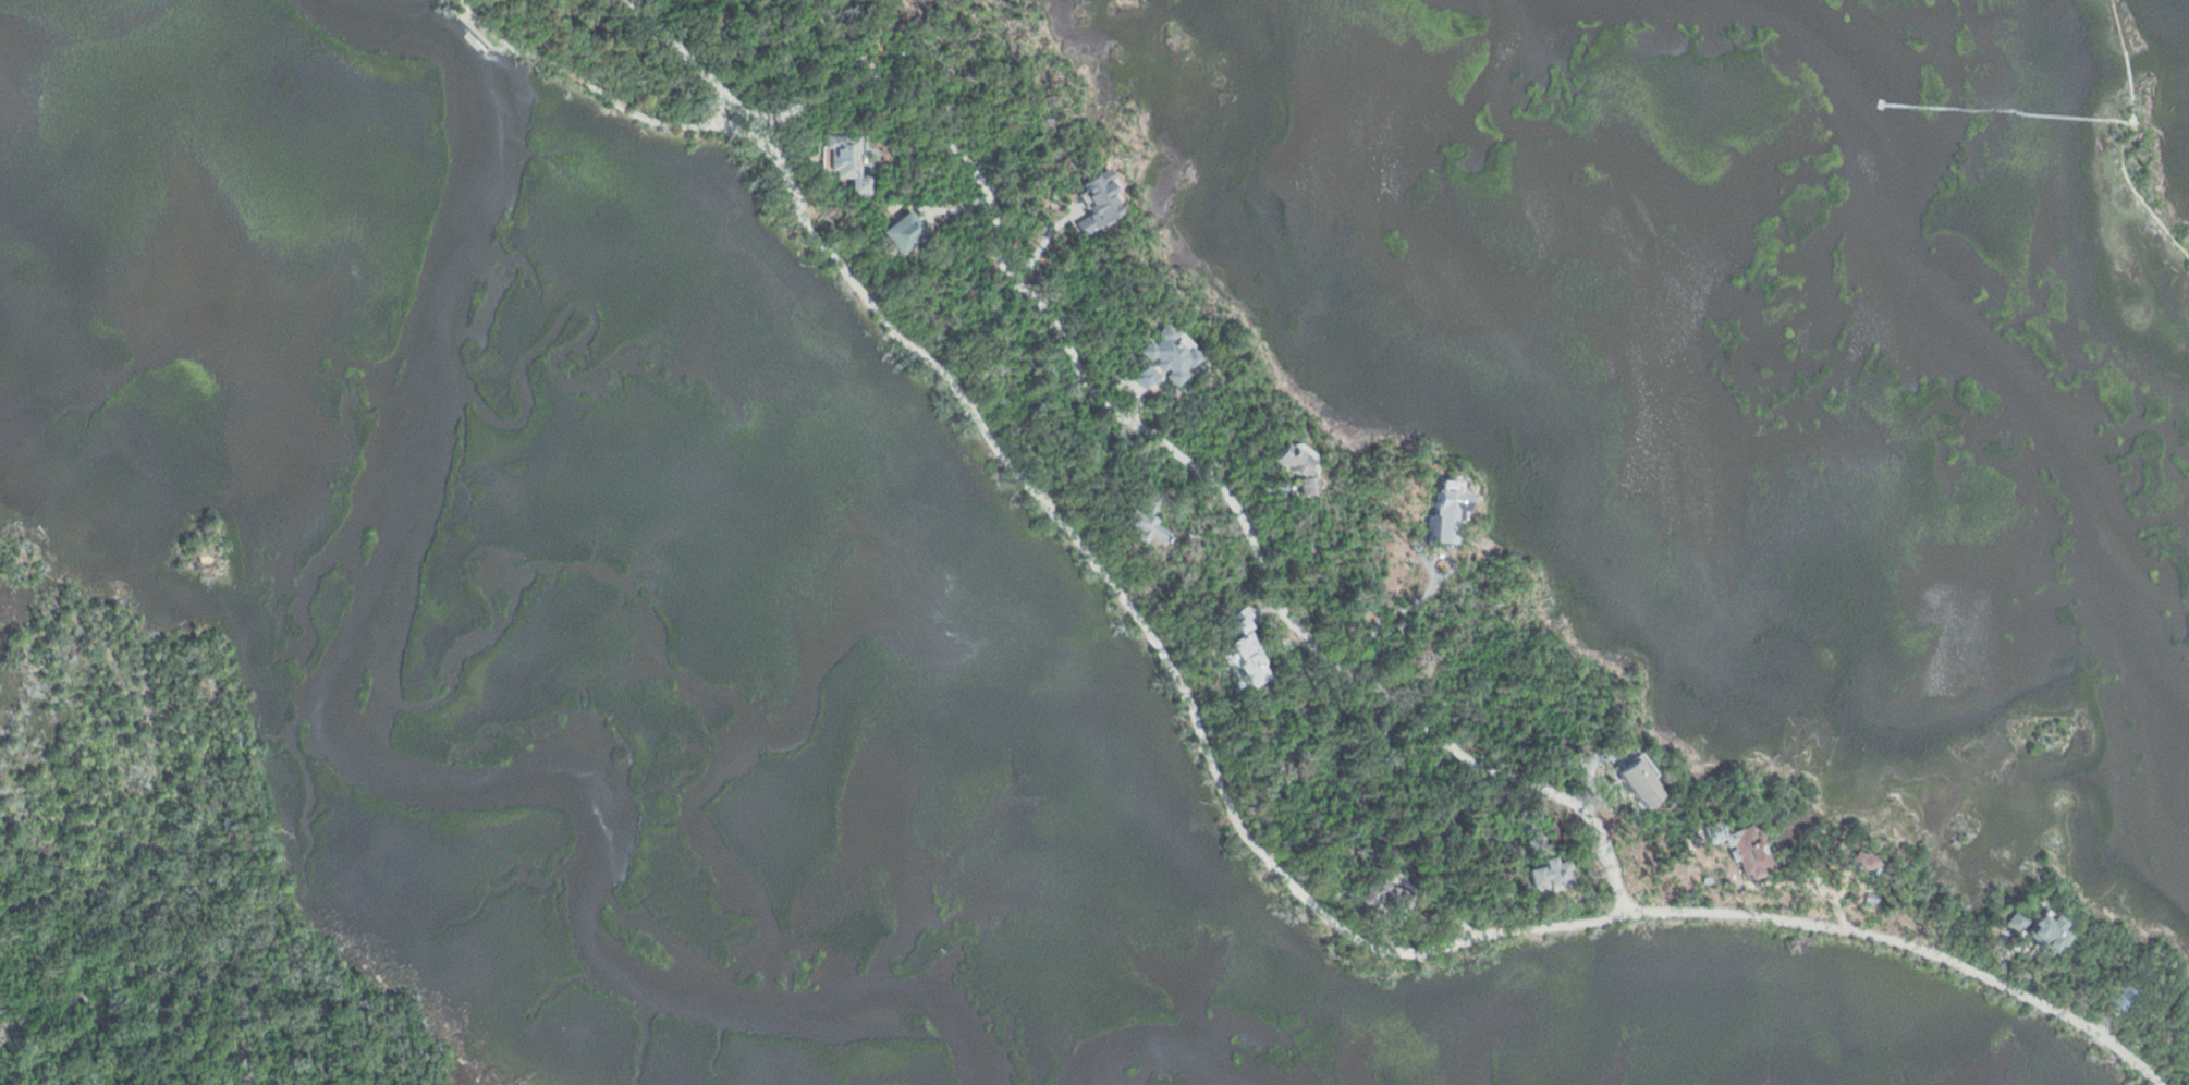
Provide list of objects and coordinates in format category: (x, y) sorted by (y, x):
road: (650, 121)
building: (839, 162)
building: (1162, 356)
building: (1136, 379)
building: (1288, 466)
road: (1200, 475)
building: (1149, 499)
building: (1440, 517)
building: (1144, 531)
building: (1238, 657)
building: (1634, 784)
road: (1223, 794)
building: (1534, 843)
building: (1741, 850)
building: (1863, 867)
building: (1546, 875)
building: (1383, 890)
building: (1870, 899)
building: (2015, 923)
building: (2044, 935)
building: (2120, 1000)
road: (151, 1034)

